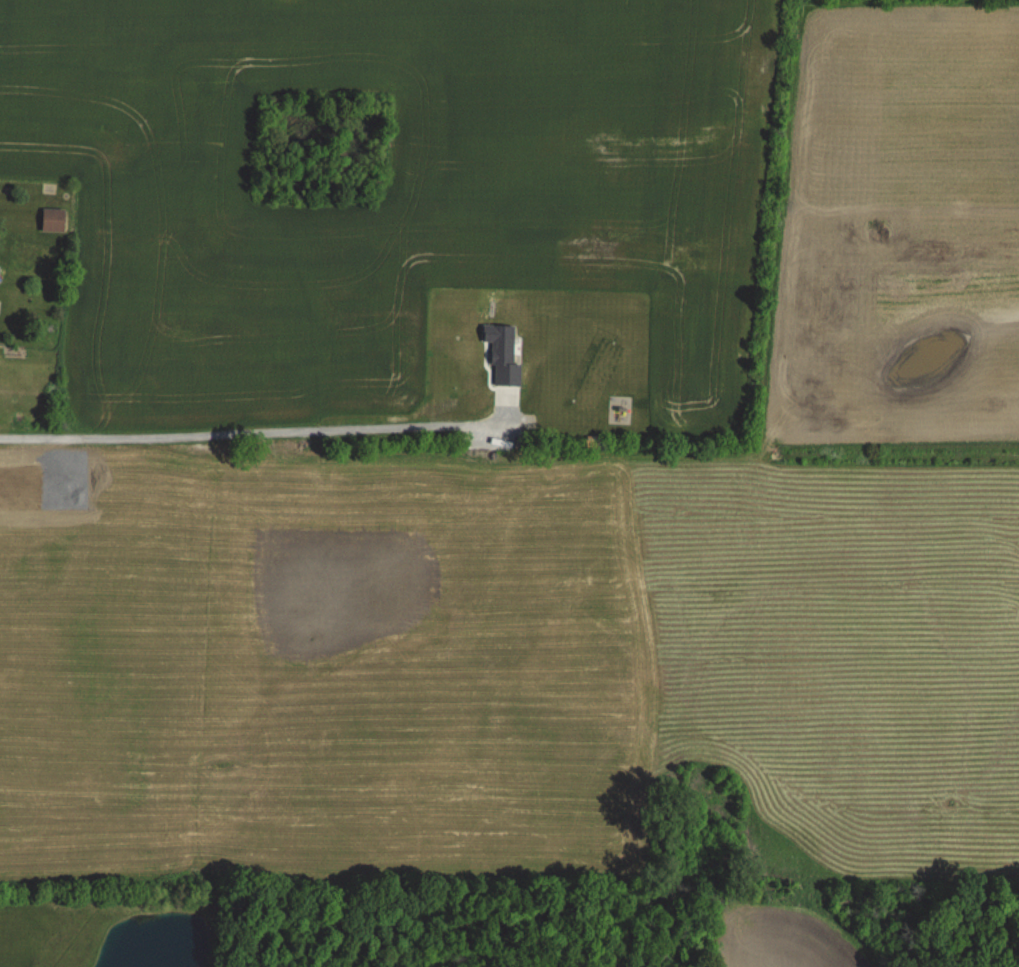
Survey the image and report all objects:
building: (53, 220)
road: (248, 434)

